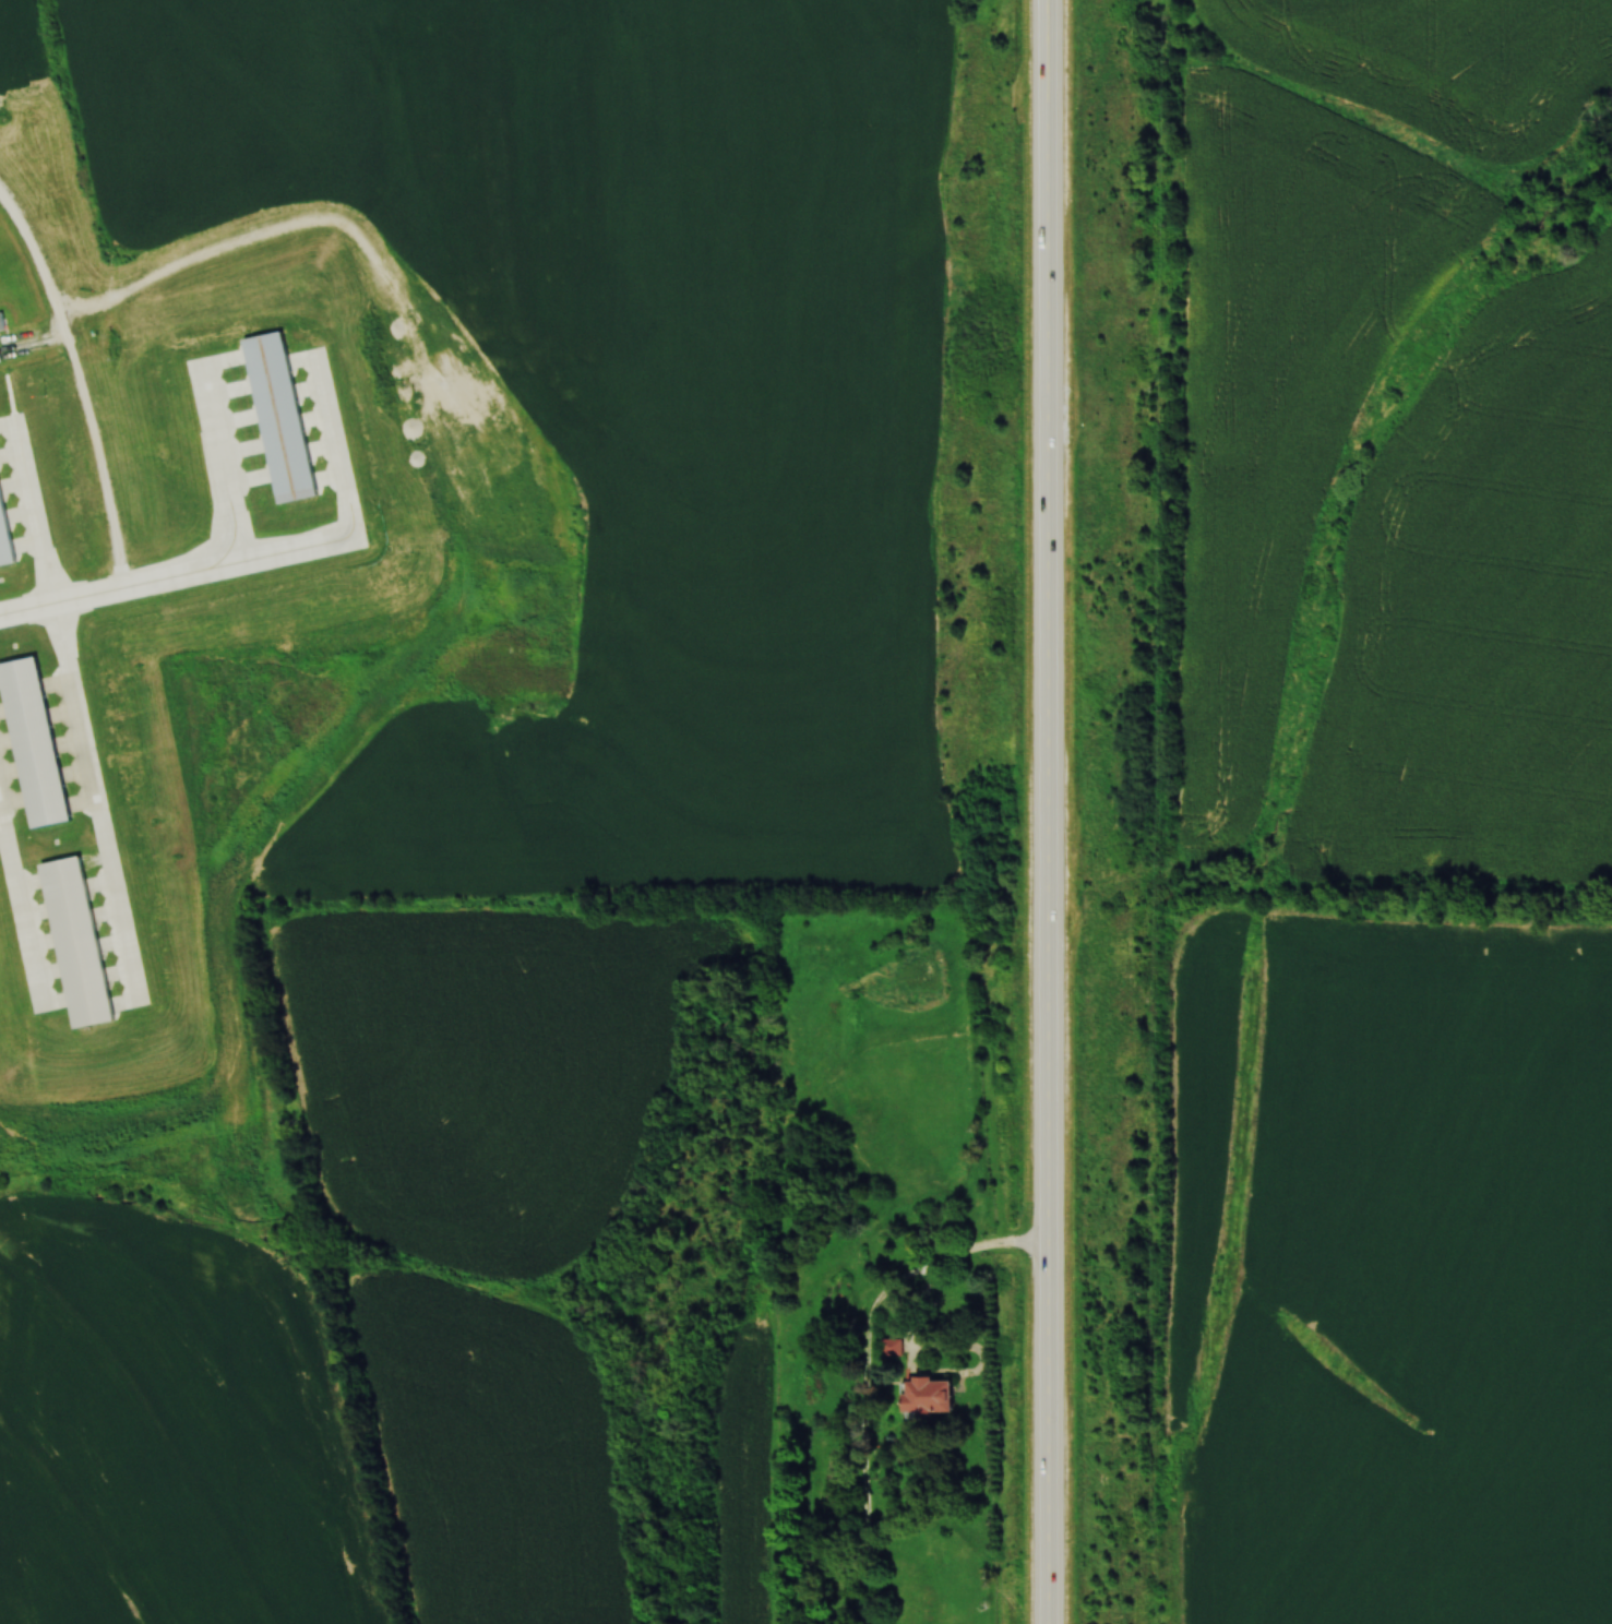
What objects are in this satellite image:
building: (2, 320)
road: (34, 344)
building: (1, 356)
road: (77, 379)
airport hangar: (285, 406)
building: (285, 406)
airport taxiway: (225, 447)
airport hangar: (5, 527)
building: (5, 527)
airport taxiway: (270, 541)
airport taxiway: (76, 703)
airport hangar: (35, 741)
building: (35, 741)
road: (1044, 811)
airport taxiway: (25, 887)
airport hangar: (81, 932)
building: (81, 932)
building: (132, 981)
building: (897, 1349)
road: (865, 1371)
building: (934, 1398)

